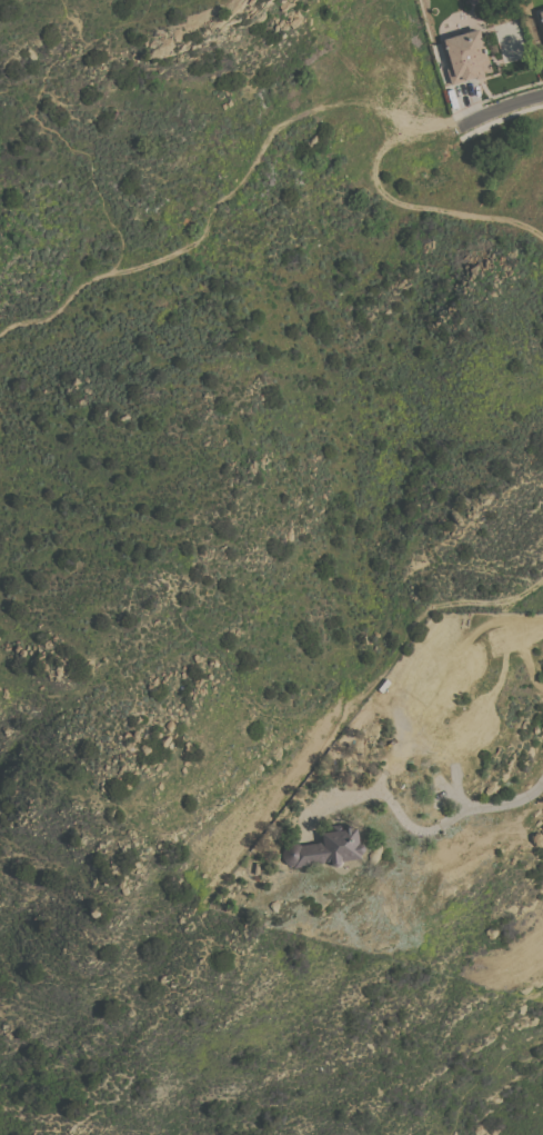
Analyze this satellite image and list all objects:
building: (542, 13)
park: (220, 29)
building: (493, 47)
building: (467, 57)
park: (28, 90)
road: (504, 106)
park: (162, 735)
road: (384, 794)
road: (507, 802)
building: (326, 848)
building: (255, 866)
park: (248, 1033)

